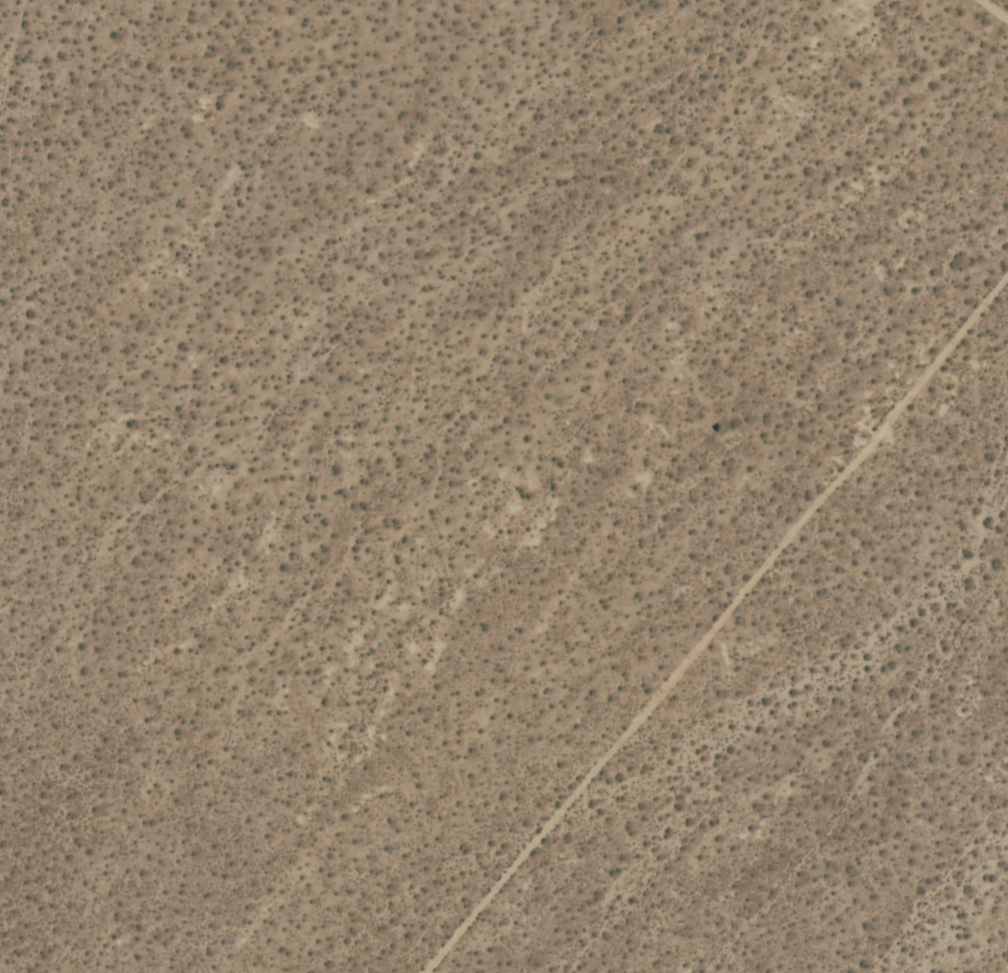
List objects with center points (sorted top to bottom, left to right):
road: (990, 12)

